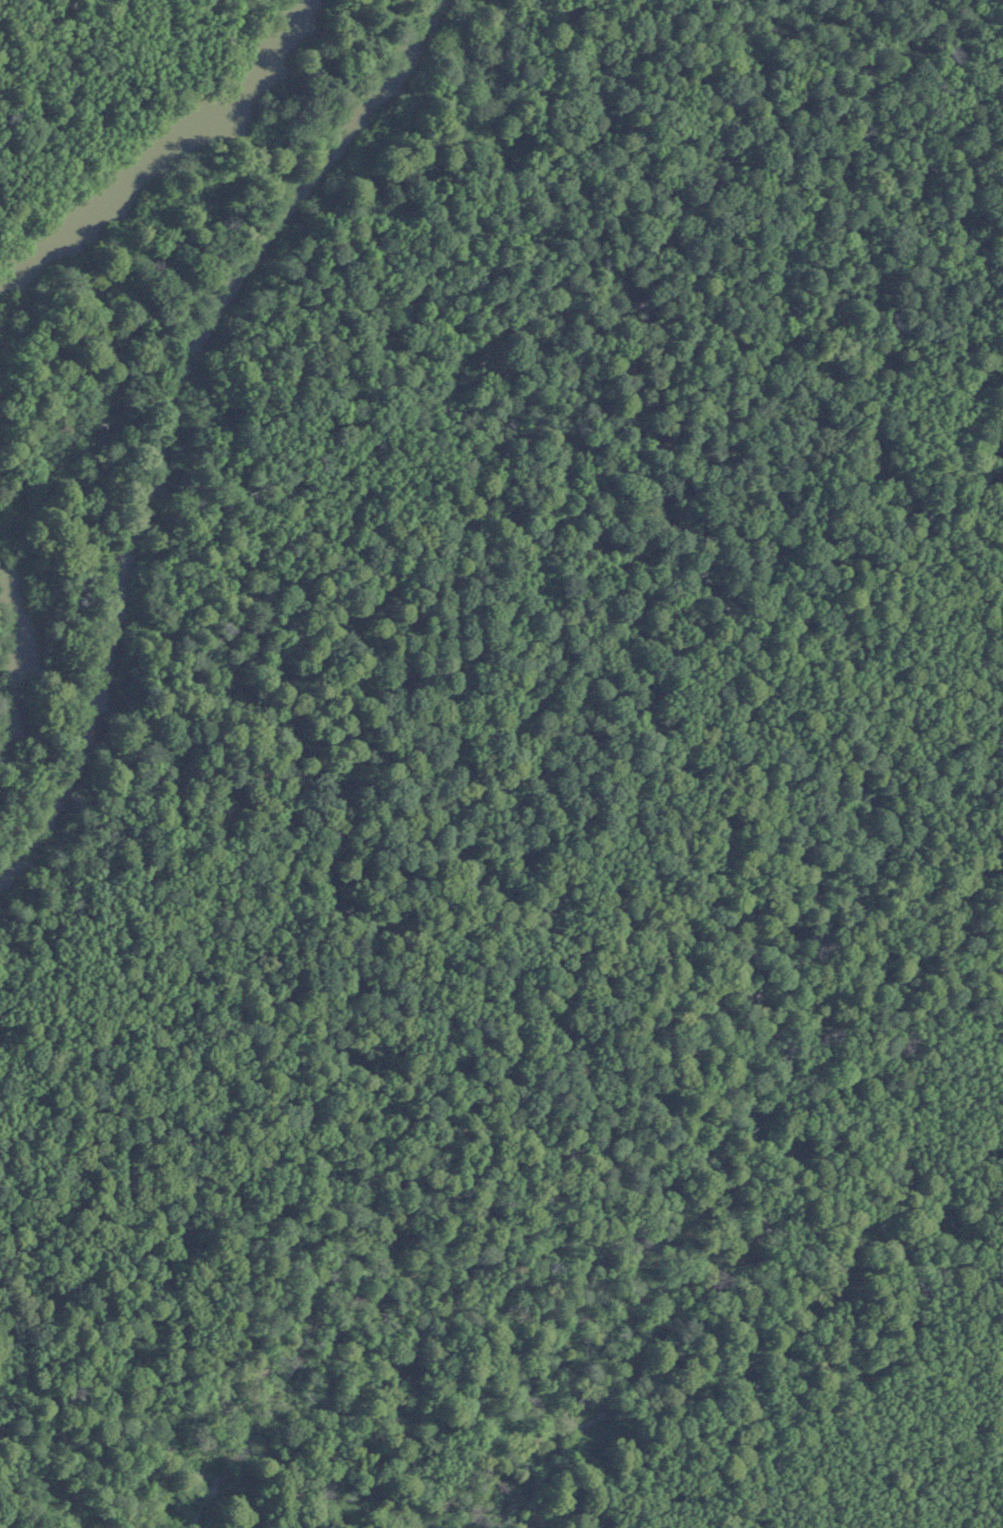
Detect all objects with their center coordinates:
river: (159, 151)
river: (167, 408)
river: (13, 658)

